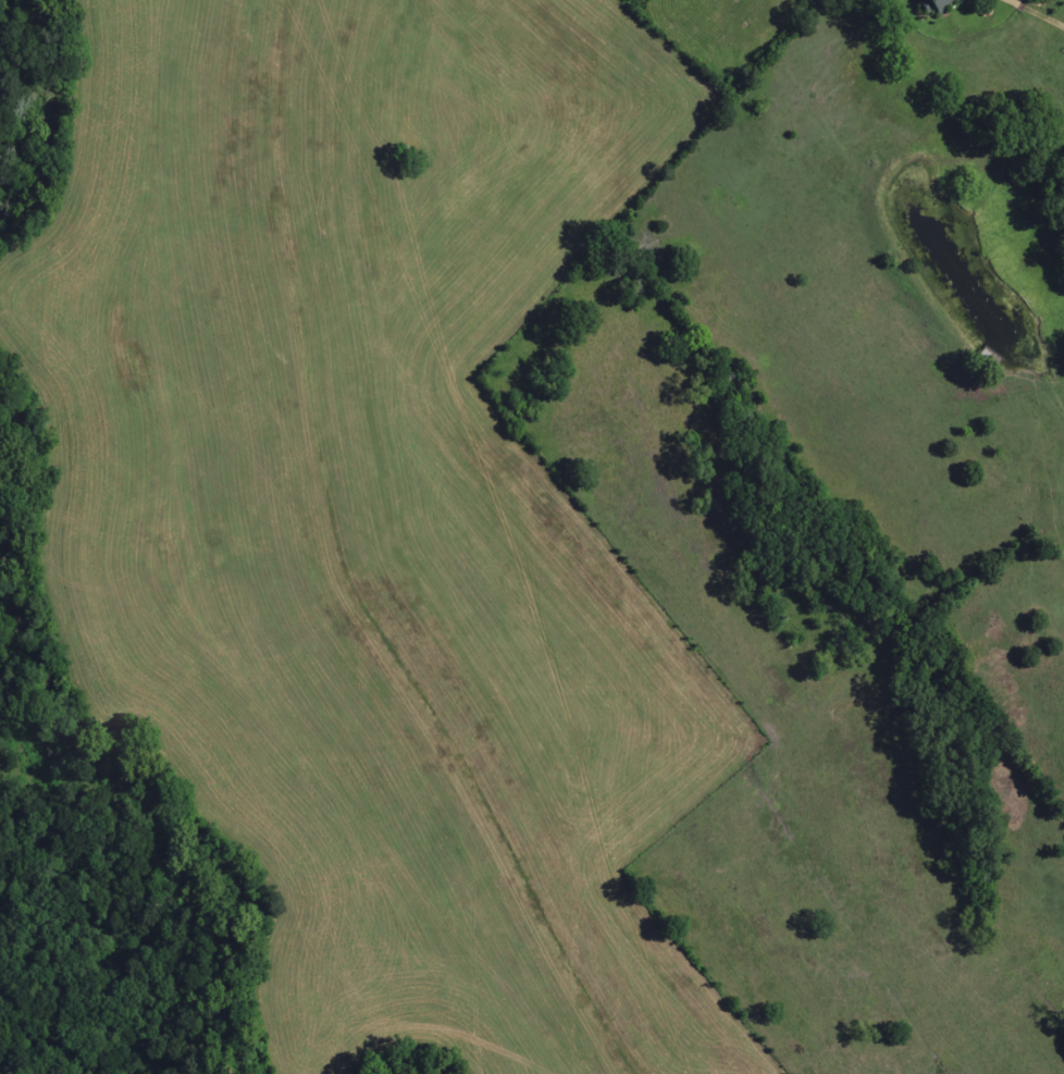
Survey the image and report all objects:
building: (933, 5)
road: (1044, 9)

